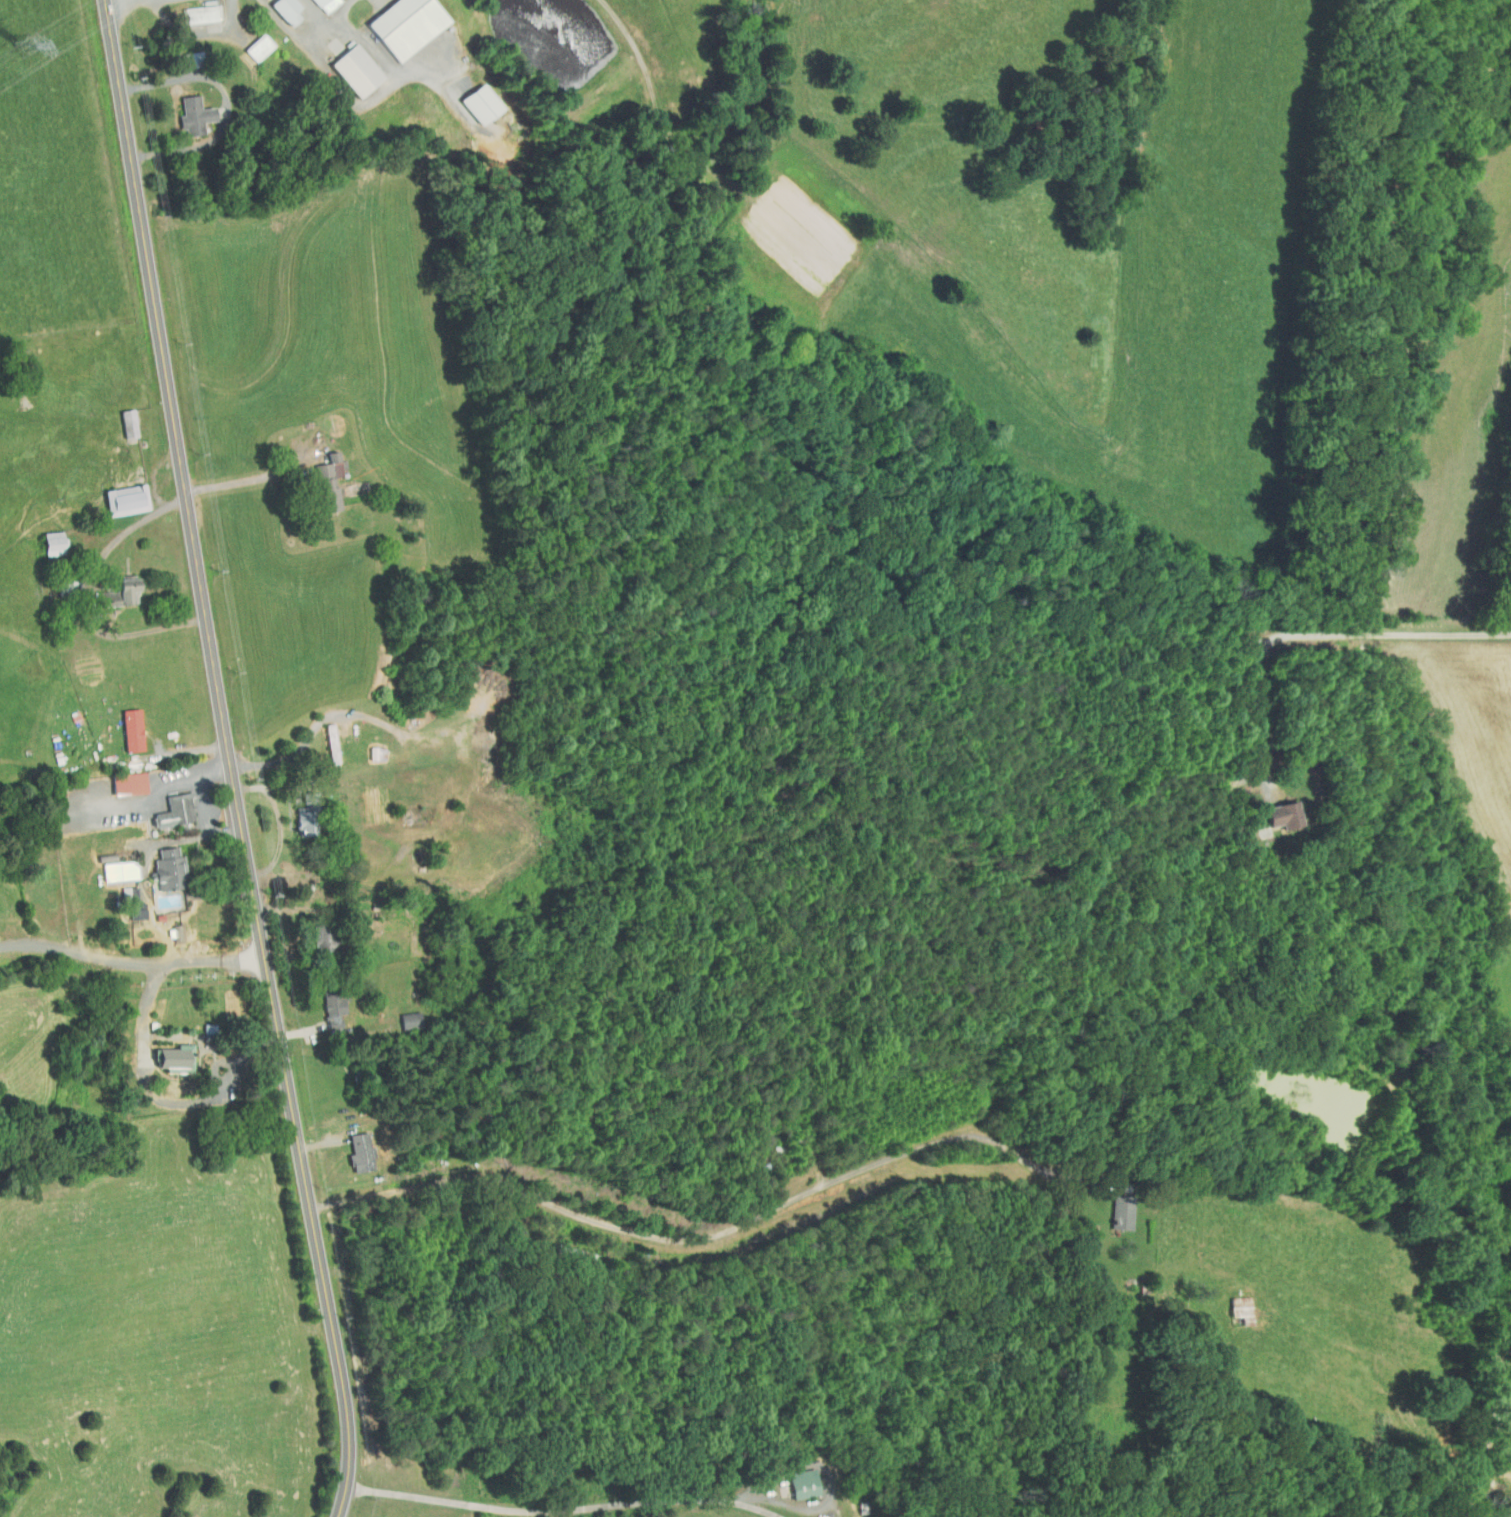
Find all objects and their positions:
building: (323, 4)
building: (283, 10)
road: (344, 12)
building: (201, 14)
building: (401, 25)
road: (292, 27)
power tower: (26, 45)
building: (255, 47)
road: (373, 48)
building: (353, 70)
building: (478, 102)
road: (229, 103)
building: (192, 114)
road: (149, 421)
building: (126, 422)
building: (326, 482)
road: (256, 484)
building: (122, 499)
building: (50, 542)
building: (121, 590)
road: (87, 598)
road: (1319, 634)
building: (130, 729)
building: (330, 743)
road: (298, 750)
road: (230, 759)
building: (125, 782)
road: (152, 796)
road: (208, 803)
building: (173, 811)
building: (1280, 814)
road: (275, 828)
building: (117, 869)
building: (166, 869)
road: (354, 876)
building: (132, 903)
road: (288, 946)
road: (132, 957)
road: (306, 1008)
building: (334, 1013)
building: (159, 1064)
road: (321, 1079)
road: (160, 1099)
building: (358, 1152)
road: (333, 1157)
road: (797, 1167)
building: (1120, 1217)
road: (732, 1227)
road: (593, 1241)
road: (355, 1272)
building: (1237, 1311)
road: (378, 1463)
building: (800, 1482)
road: (563, 1511)

